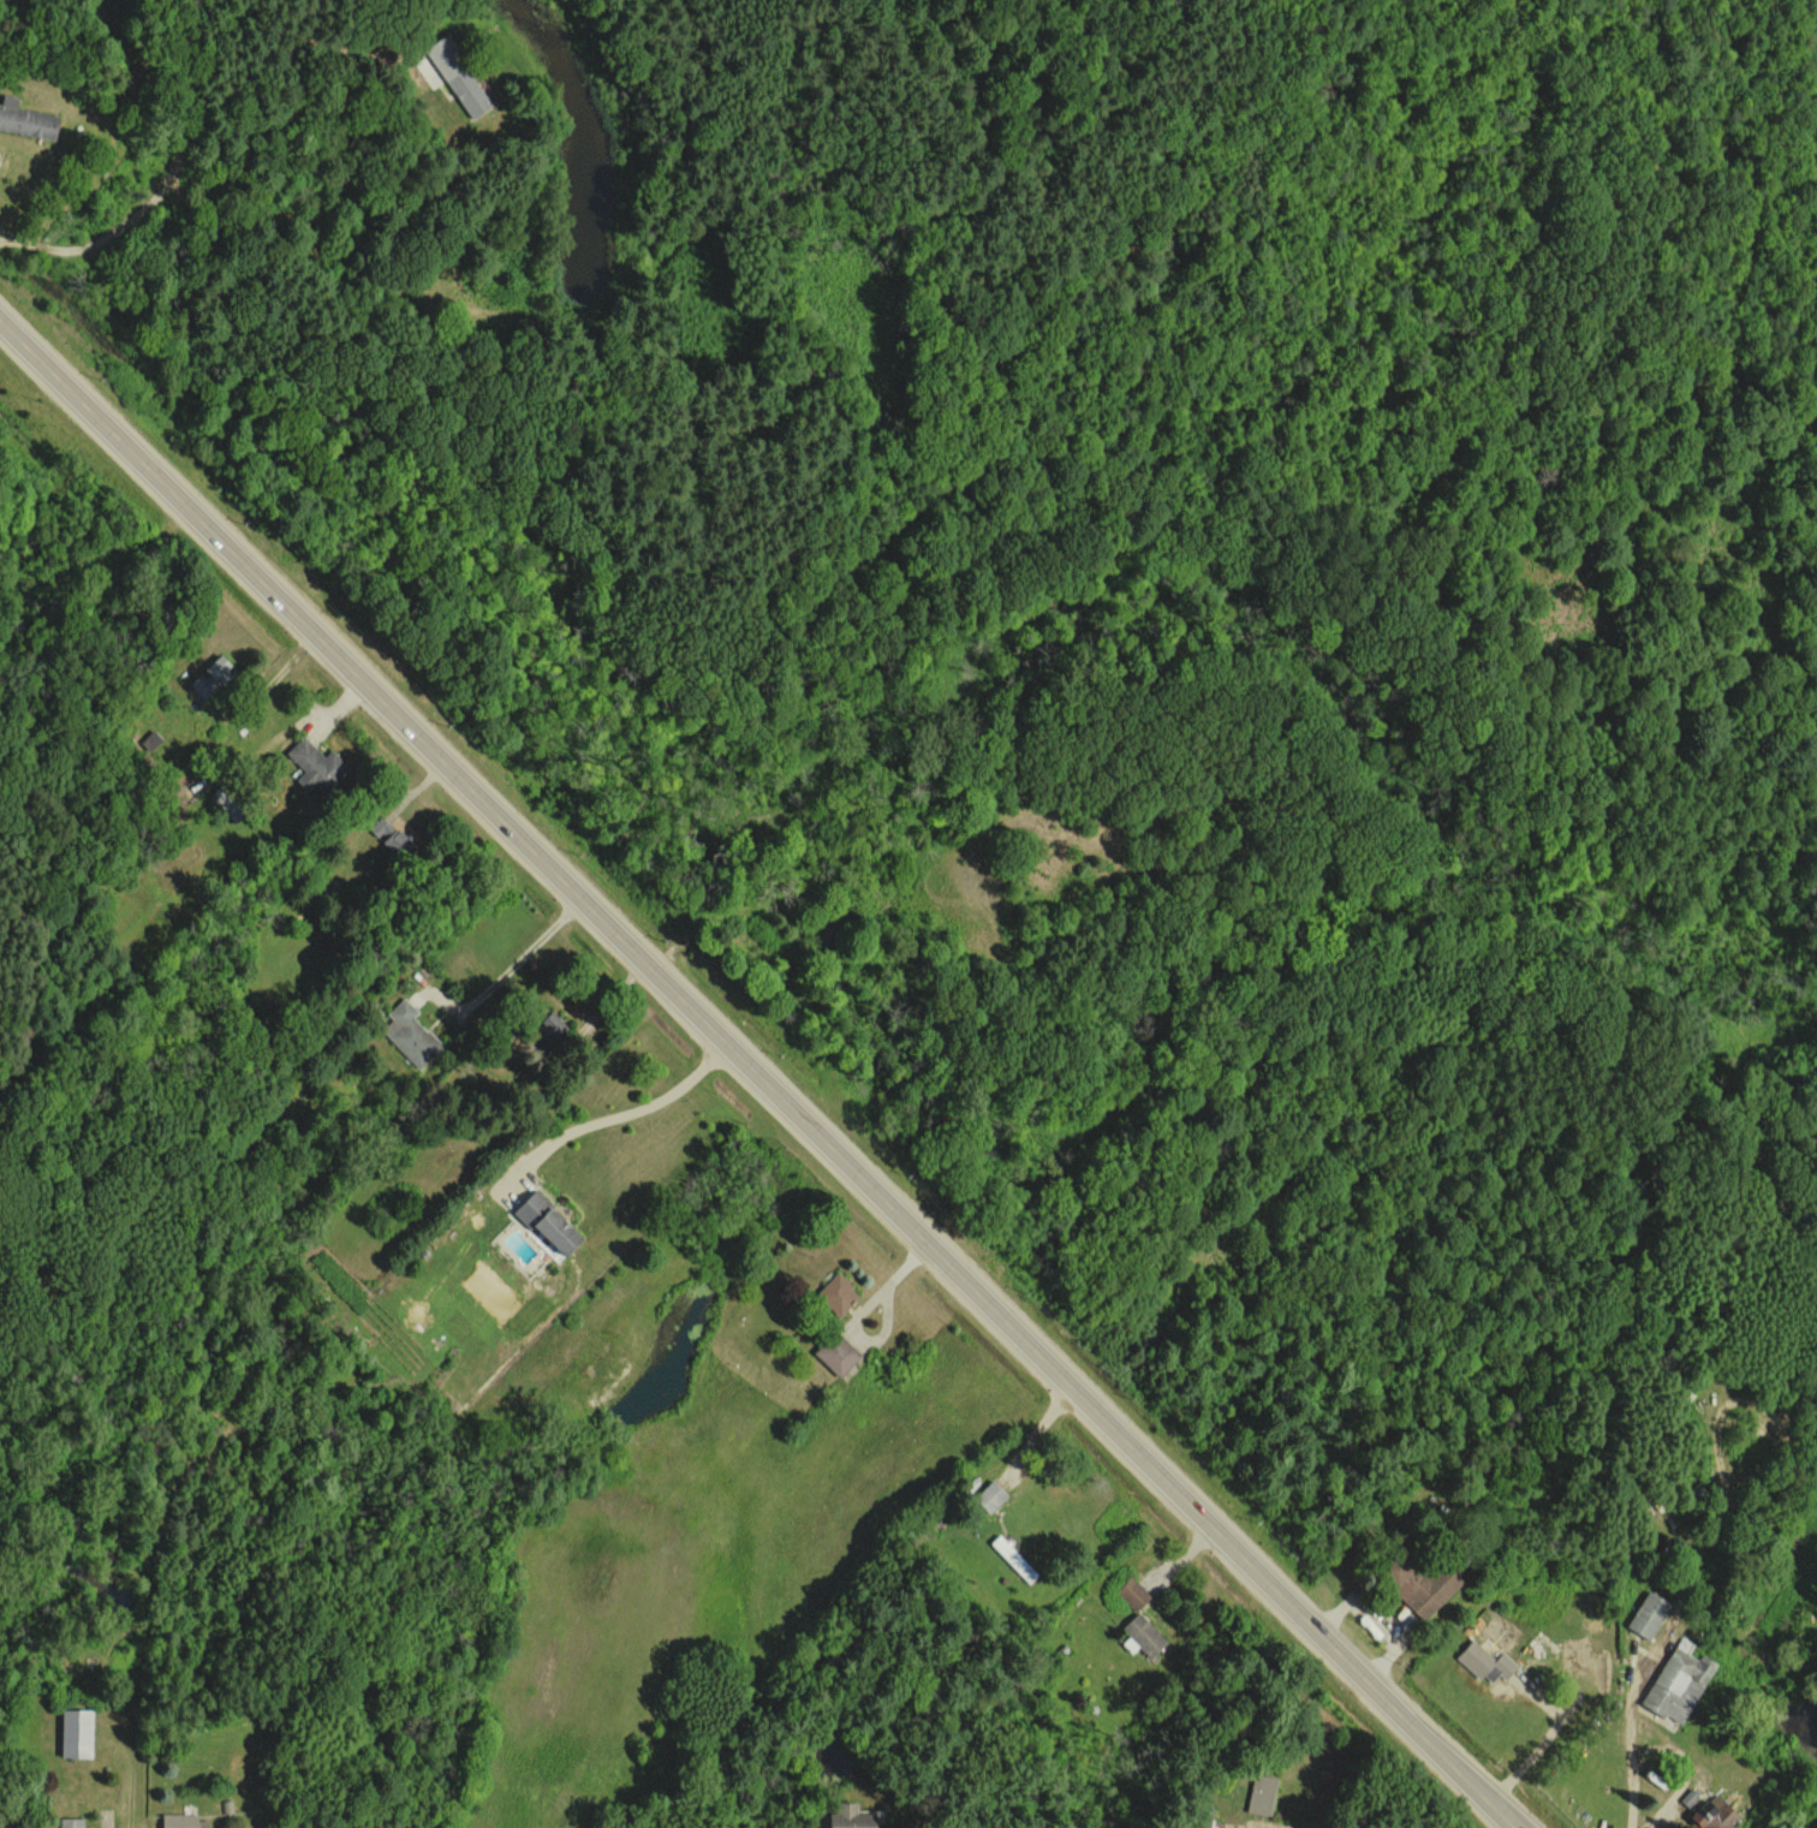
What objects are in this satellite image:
building: (458, 76)
building: (25, 119)
building: (213, 678)
building: (150, 740)
building: (315, 767)
building: (389, 836)
road: (511, 967)
building: (549, 1028)
building: (410, 1034)
road: (759, 1072)
road: (616, 1117)
building: (547, 1223)
building: (836, 1294)
building: (835, 1353)
building: (989, 1496)
building: (1419, 1584)
building: (1132, 1592)
building: (1648, 1613)
building: (1143, 1633)
building: (1485, 1661)
building: (1678, 1680)
building: (76, 1733)
building: (1262, 1793)
building: (1714, 1814)
building: (850, 1816)
building: (1204, 1816)
building: (181, 1821)
building: (71, 1822)

